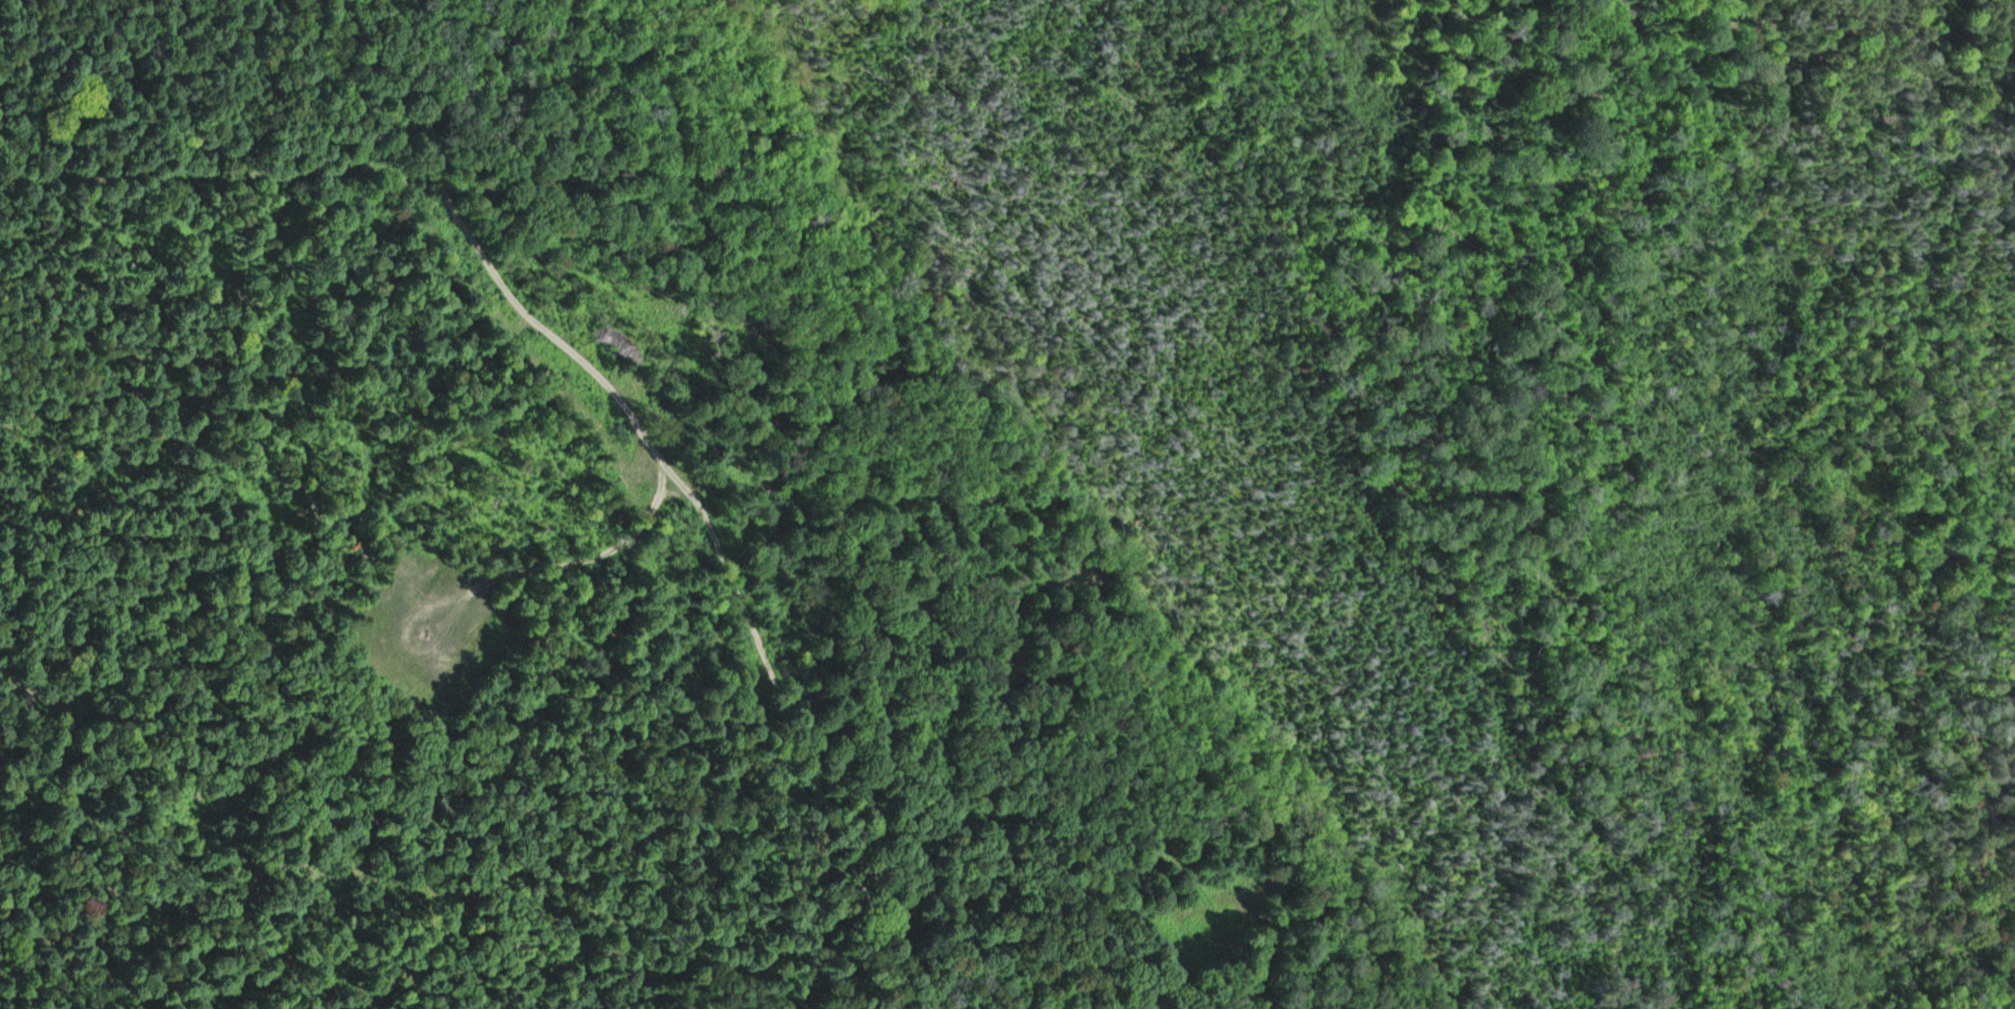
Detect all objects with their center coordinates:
road: (674, 480)

